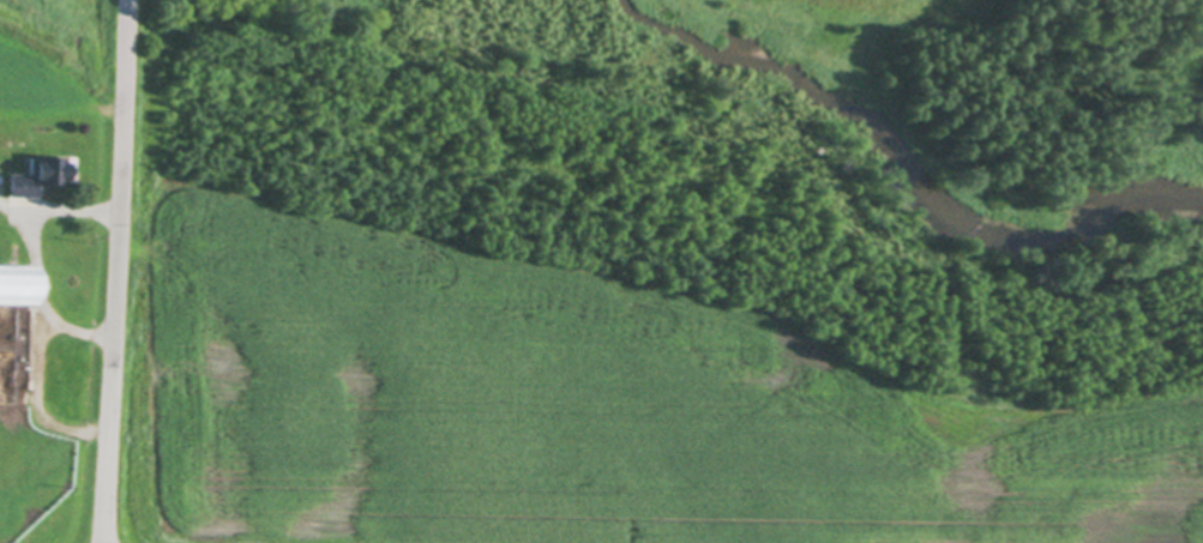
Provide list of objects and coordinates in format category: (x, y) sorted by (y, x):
building: (36, 180)
road: (20, 222)
road: (108, 271)
building: (20, 289)
road: (35, 374)

